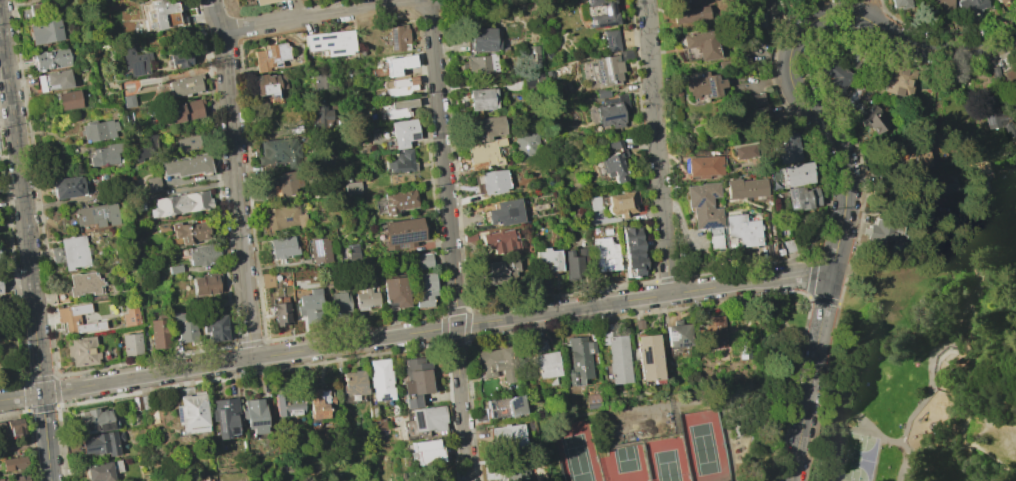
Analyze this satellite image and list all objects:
building: (998, 0)
rooftop solar panel: (588, 1)
building: (264, 2)
road: (434, 3)
building: (900, 4)
building: (938, 5)
building: (968, 6)
building: (38, 8)
road: (466, 10)
building: (688, 10)
road: (872, 10)
building: (600, 13)
road: (794, 13)
building: (163, 14)
building: (767, 14)
road: (216, 16)
road: (324, 16)
rooftop solar panel: (591, 22)
rooftop solar panel: (603, 25)
road: (433, 29)
building: (44, 31)
building: (398, 36)
rooftop solar panel: (311, 38)
rooftop solar panel: (324, 38)
building: (483, 39)
rooftop solar panel: (395, 40)
building: (611, 40)
building: (331, 42)
building: (700, 44)
rooftop solar panel: (316, 46)
rooftop solar panel: (336, 52)
building: (625, 55)
building: (271, 56)
building: (533, 56)
building: (178, 58)
building: (51, 59)
building: (134, 61)
rooftop solar panel: (598, 63)
building: (398, 64)
building: (482, 64)
rooftop solar panel: (605, 67)
rooftop solar panel: (136, 69)
building: (607, 70)
building: (834, 75)
rooftop solar panel: (599, 76)
rooftop solar panel: (608, 77)
building: (1009, 79)
building: (54, 80)
building: (322, 81)
building: (895, 84)
building: (185, 85)
building: (270, 85)
building: (701, 85)
building: (401, 86)
rooftop solar panel: (709, 90)
building: (601, 93)
building: (481, 99)
building: (67, 100)
building: (128, 101)
building: (396, 109)
rooftop solar panel: (994, 110)
building: (184, 111)
building: (610, 112)
building: (322, 114)
building: (871, 117)
rooftop solar panel: (610, 118)
rooftop solar panel: (986, 119)
building: (995, 119)
building: (488, 127)
building: (99, 130)
building: (403, 133)
road: (832, 135)
building: (184, 142)
building: (528, 143)
road: (657, 146)
building: (785, 148)
building: (280, 151)
building: (485, 154)
building: (105, 155)
building: (920, 158)
building: (401, 162)
building: (613, 163)
building: (186, 165)
building: (703, 166)
building: (977, 166)
building: (796, 174)
building: (493, 182)
building: (289, 183)
building: (154, 184)
building: (67, 187)
building: (746, 187)
road: (237, 195)
rooftop solar panel: (712, 195)
rooftop solar panel: (789, 195)
building: (800, 198)
building: (396, 202)
building: (181, 203)
building: (595, 203)
building: (622, 203)
rooftop solar panel: (698, 203)
rooftop solar panel: (801, 203)
building: (137, 204)
building: (703, 204)
rooftop solar panel: (792, 204)
building: (925, 207)
building: (504, 213)
building: (97, 215)
building: (284, 217)
rooftop solar panel: (709, 225)
building: (162, 227)
building: (743, 229)
building: (190, 232)
building: (401, 233)
building: (881, 234)
building: (469, 237)
rooftop solar panel: (400, 240)
building: (499, 241)
building: (283, 247)
road: (990, 247)
road: (26, 248)
rooftop solar panel: (318, 249)
building: (319, 250)
building: (632, 250)
building: (352, 251)
building: (73, 252)
building: (604, 254)
road: (969, 254)
building: (202, 255)
building: (423, 261)
building: (547, 261)
road: (1004, 263)
building: (570, 264)
road: (757, 264)
road: (453, 266)
building: (175, 269)
road: (892, 269)
building: (497, 272)
road: (811, 274)
road: (667, 277)
building: (267, 281)
building: (84, 283)
building: (206, 284)
building: (422, 288)
building: (0, 290)
building: (395, 291)
road: (561, 293)
building: (364, 299)
road: (823, 299)
building: (339, 303)
road: (885, 305)
road: (975, 305)
building: (310, 306)
road: (455, 309)
road: (659, 309)
building: (280, 313)
building: (129, 316)
building: (76, 319)
road: (781, 319)
road: (467, 323)
road: (960, 324)
road: (354, 326)
road: (444, 326)
building: (182, 327)
building: (214, 328)
building: (158, 331)
road: (434, 331)
building: (712, 332)
building: (678, 335)
rooftop solar panel: (670, 337)
road: (455, 340)
building: (131, 344)
road: (248, 344)
rooftop solar panel: (682, 345)
road: (981, 345)
rooftop solar panel: (677, 346)
building: (81, 351)
road: (827, 354)
road: (266, 356)
building: (648, 357)
building: (619, 359)
rooftop solar panel: (644, 359)
building: (580, 360)
road: (141, 361)
road: (234, 361)
building: (498, 365)
building: (545, 367)
park: (922, 369)
road: (249, 373)
road: (56, 377)
road: (40, 378)
road: (27, 380)
building: (380, 380)
road: (1013, 380)
building: (416, 381)
road: (25, 383)
building: (353, 384)
road: (56, 390)
road: (753, 391)
road: (19, 396)
road: (26, 396)
building: (592, 399)
road: (926, 399)
road: (57, 403)
building: (316, 404)
building: (287, 405)
rooftop solar panel: (514, 405)
road: (42, 407)
building: (507, 407)
road: (27, 410)
road: (451, 411)
building: (191, 413)
building: (254, 416)
road: (726, 417)
rooftop solar panel: (179, 418)
building: (226, 418)
road: (678, 418)
road: (995, 418)
building: (429, 419)
road: (1006, 419)
building: (94, 421)
rooftop solar panel: (418, 421)
park: (688, 421)
rooftop solar panel: (221, 423)
road: (872, 424)
building: (13, 426)
building: (736, 427)
building: (508, 437)
building: (100, 443)
park: (705, 446)
park: (579, 451)
building: (427, 452)
road: (908, 453)
park: (856, 457)
park: (668, 460)
road: (1004, 462)
building: (14, 463)
park: (626, 463)
road: (973, 468)
road: (986, 468)
building: (102, 470)
road: (930, 471)
building: (512, 474)
building: (19, 478)
building: (3, 479)
road: (908, 479)
road: (949, 480)

